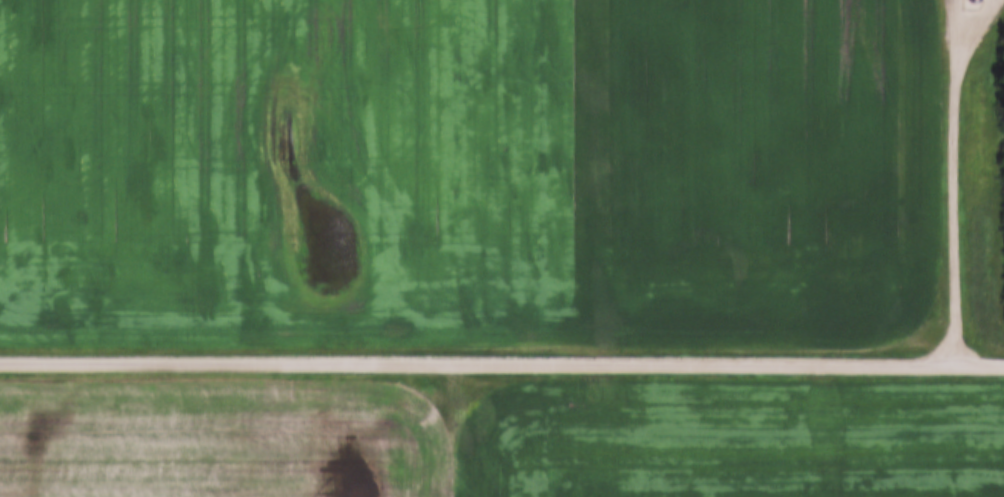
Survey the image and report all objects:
road: (957, 31)
road: (974, 32)
road: (954, 211)
road: (501, 358)

